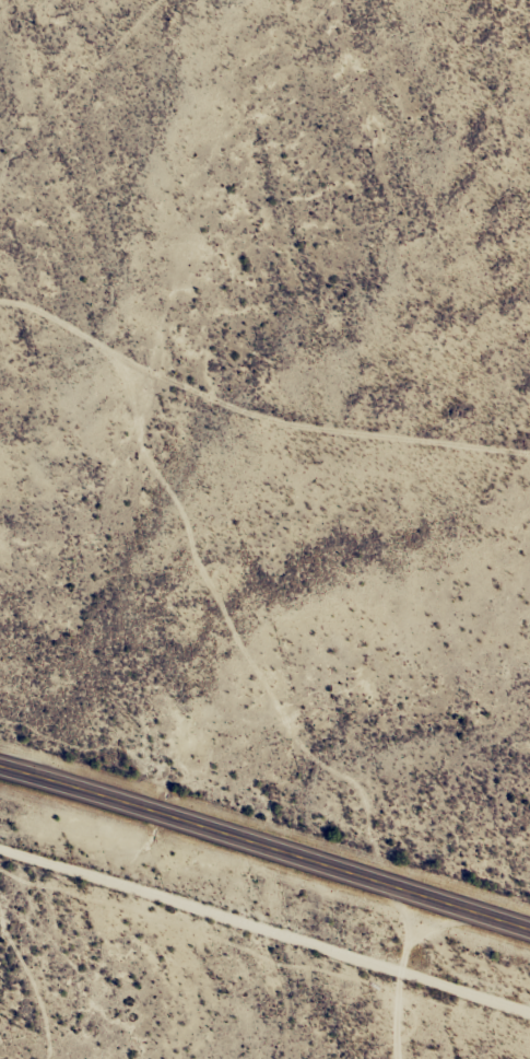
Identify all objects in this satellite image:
road: (266, 846)

